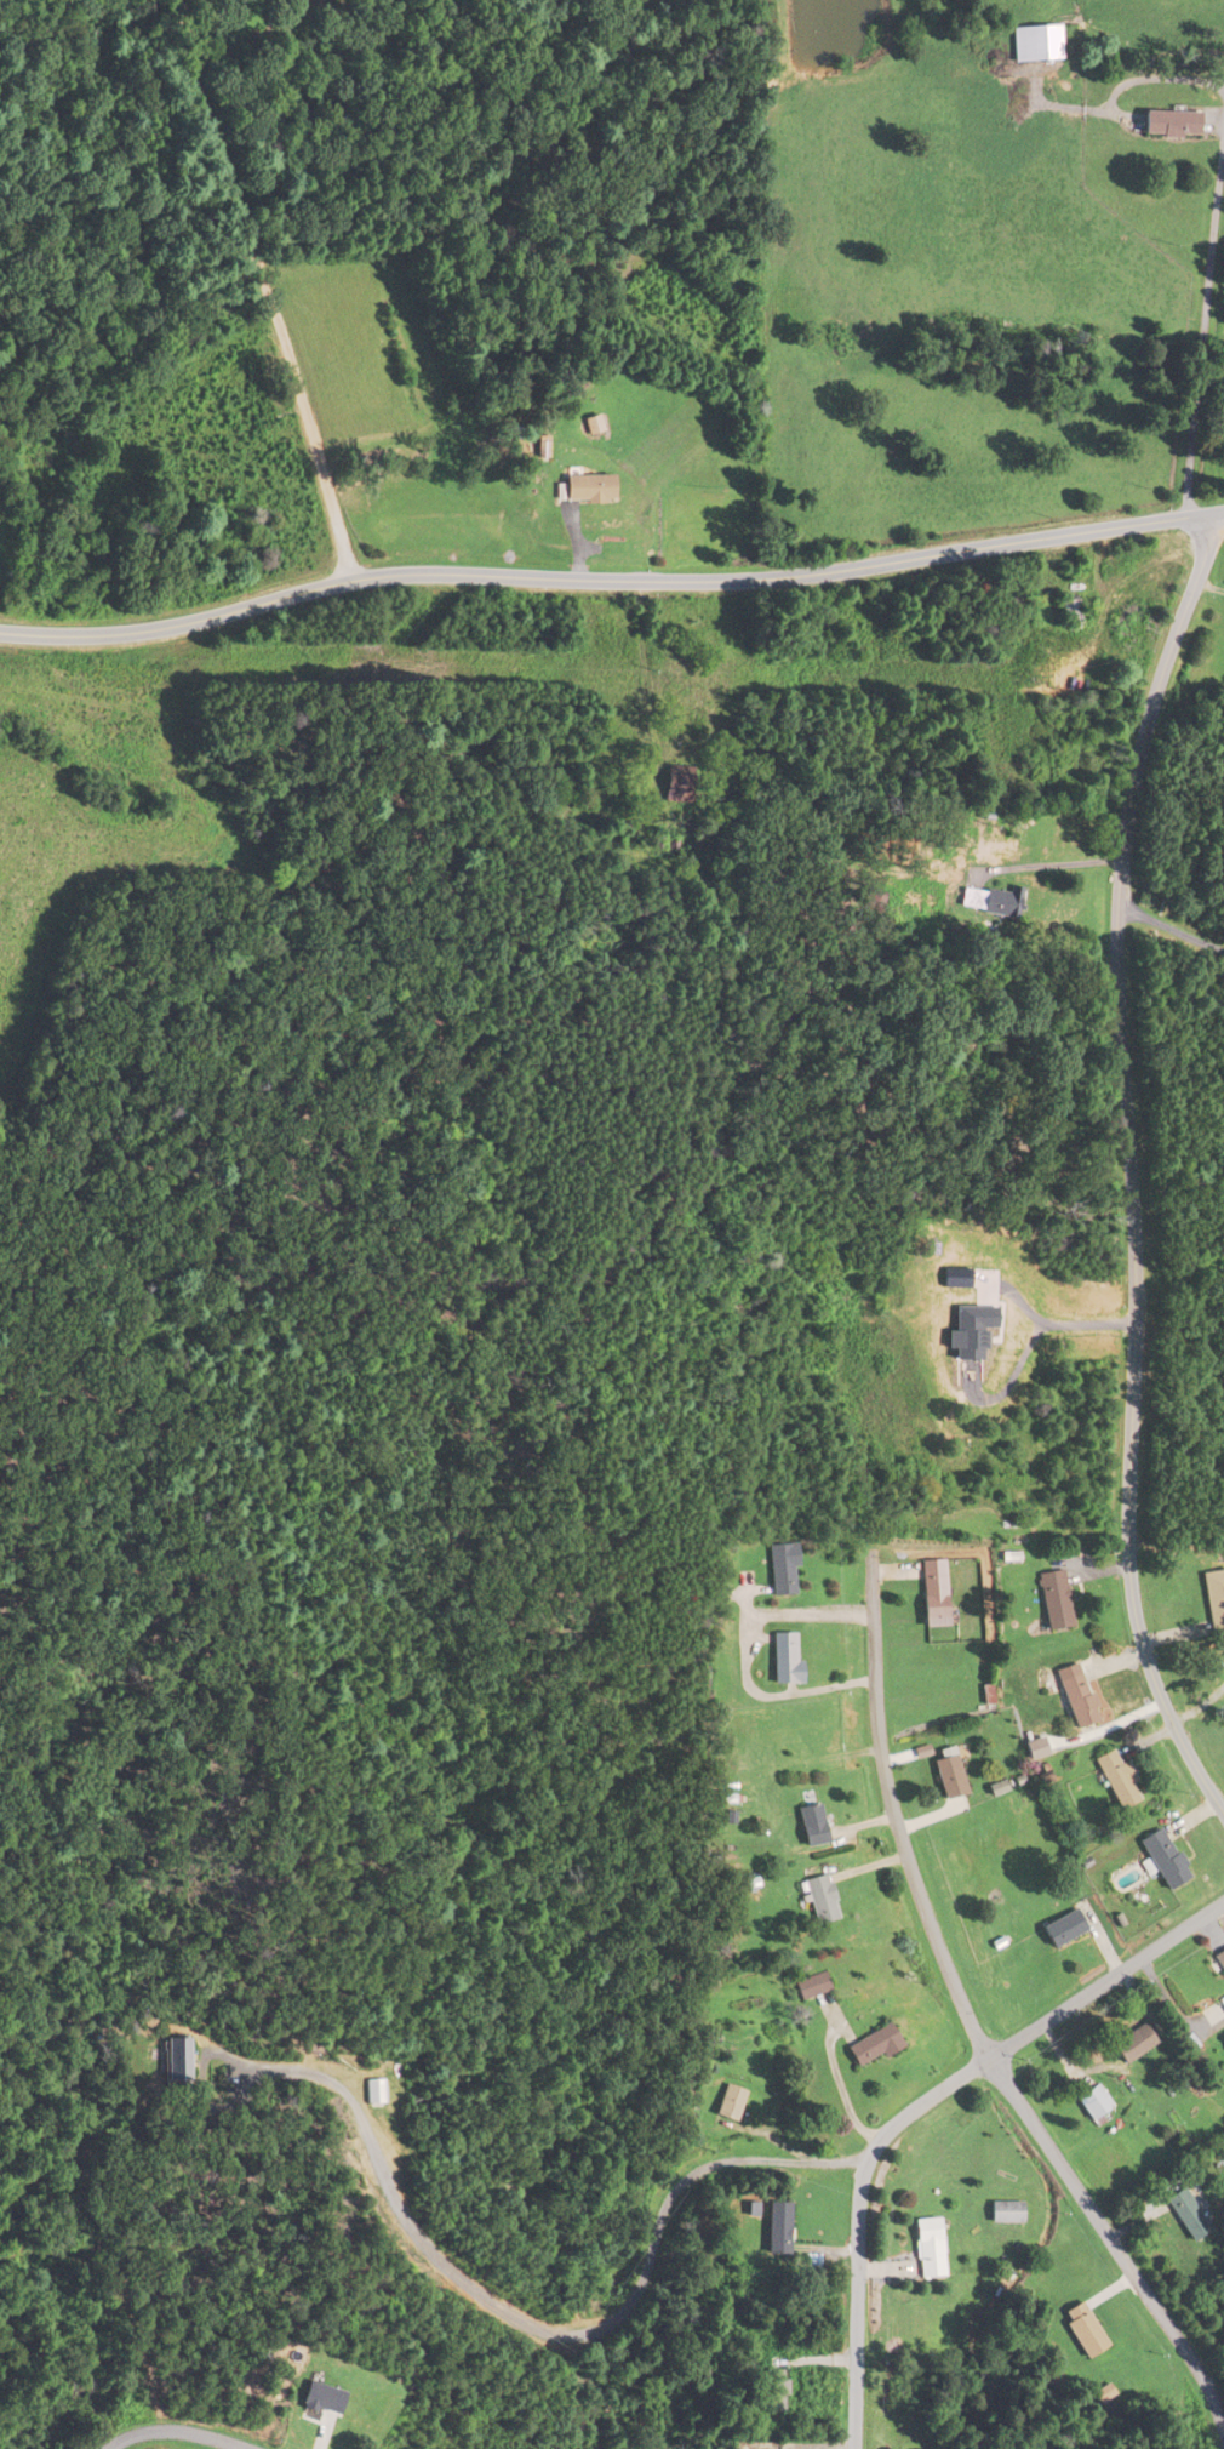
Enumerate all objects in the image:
building: (307, 1)
building: (1033, 41)
road: (1160, 78)
building: (1168, 121)
road: (271, 287)
road: (1202, 330)
building: (590, 426)
building: (585, 489)
road: (611, 576)
building: (1068, 613)
road: (1046, 864)
building: (1000, 903)
road: (1169, 927)
road: (1119, 1026)
building: (780, 1569)
building: (932, 1589)
building: (1052, 1602)
building: (1213, 1603)
building: (783, 1660)
road: (1155, 1689)
building: (1075, 1701)
building: (1033, 1751)
building: (946, 1776)
building: (1113, 1777)
road: (898, 1825)
building: (808, 1827)
building: (1161, 1860)
building: (818, 1901)
building: (1058, 1933)
road: (1138, 1959)
building: (1219, 1962)
building: (811, 1987)
building: (1222, 2003)
building: (1131, 2045)
building: (871, 2048)
building: (171, 2060)
road: (840, 2090)
building: (726, 2102)
building: (1091, 2103)
road: (860, 2185)
building: (1003, 2211)
building: (1185, 2213)
building: (772, 2226)
road: (1113, 2245)
building: (926, 2248)
road: (539, 2327)
building: (1080, 2329)
building: (316, 2398)
road: (175, 2431)

